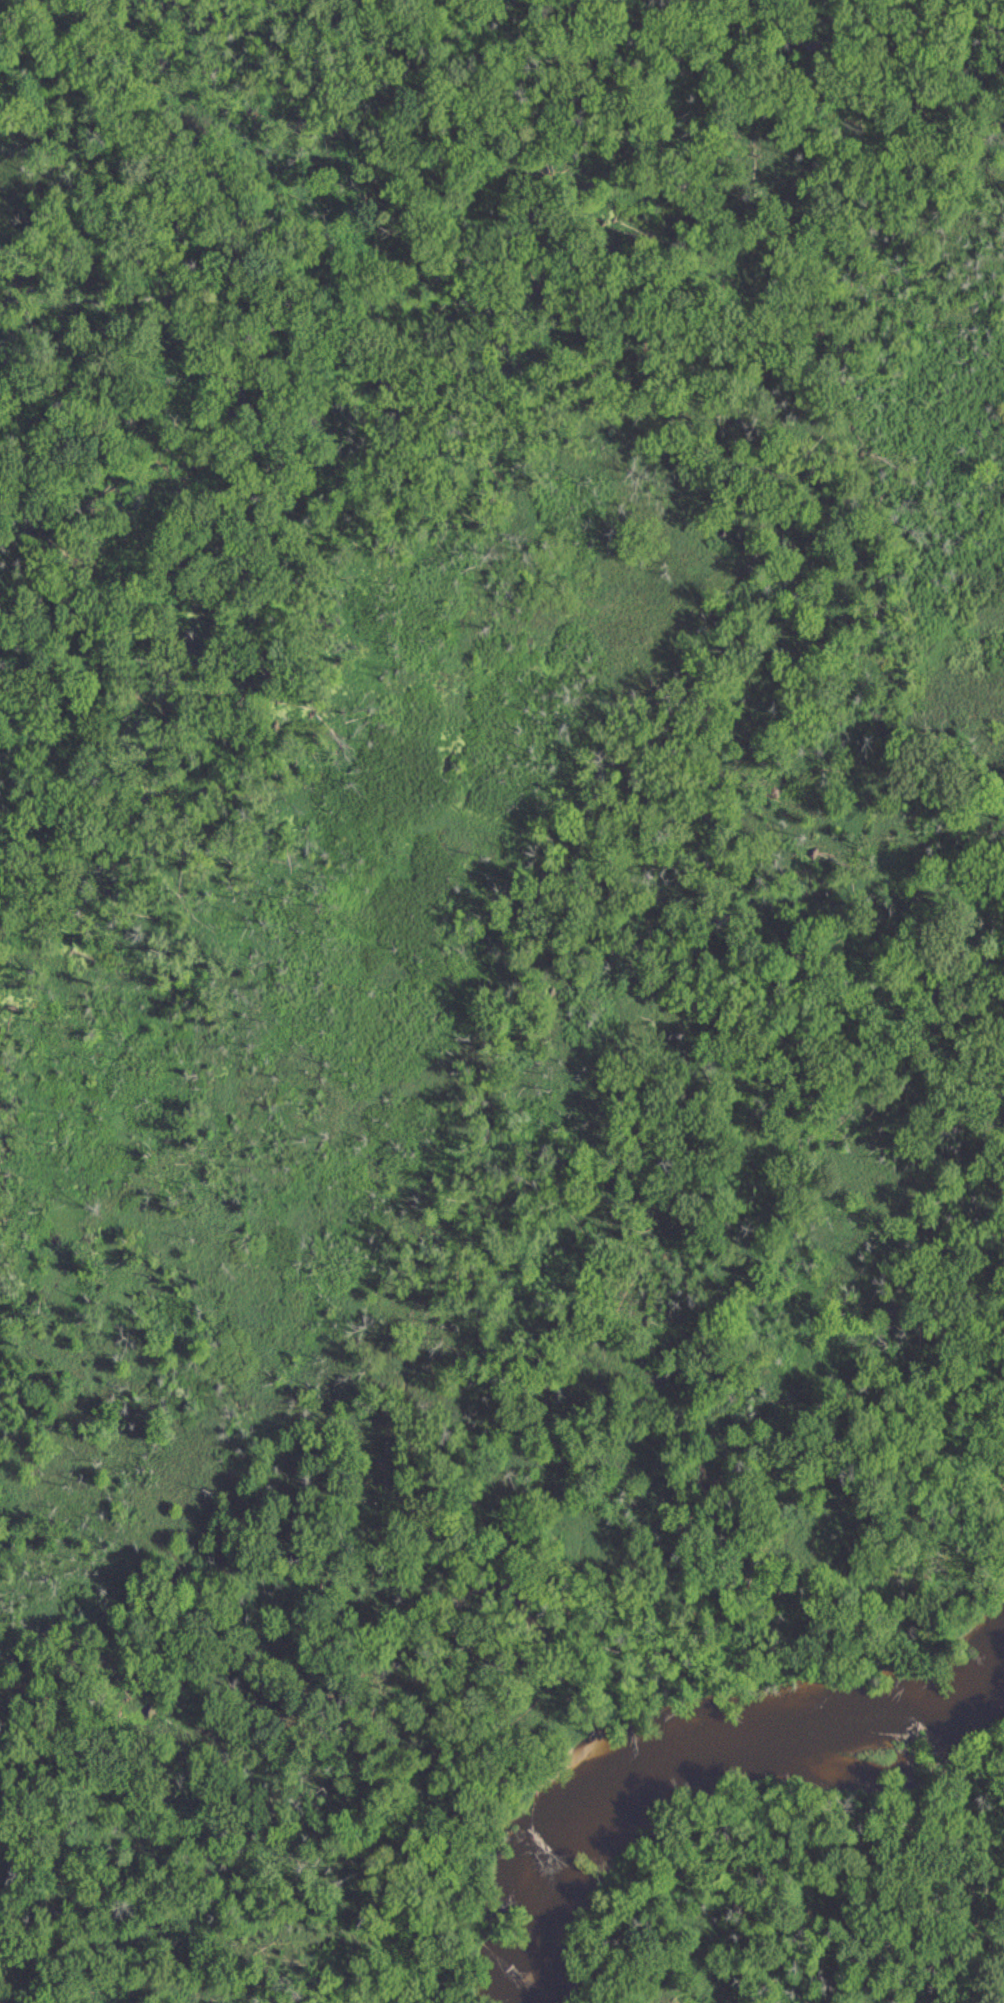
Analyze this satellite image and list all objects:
river: (705, 1765)

